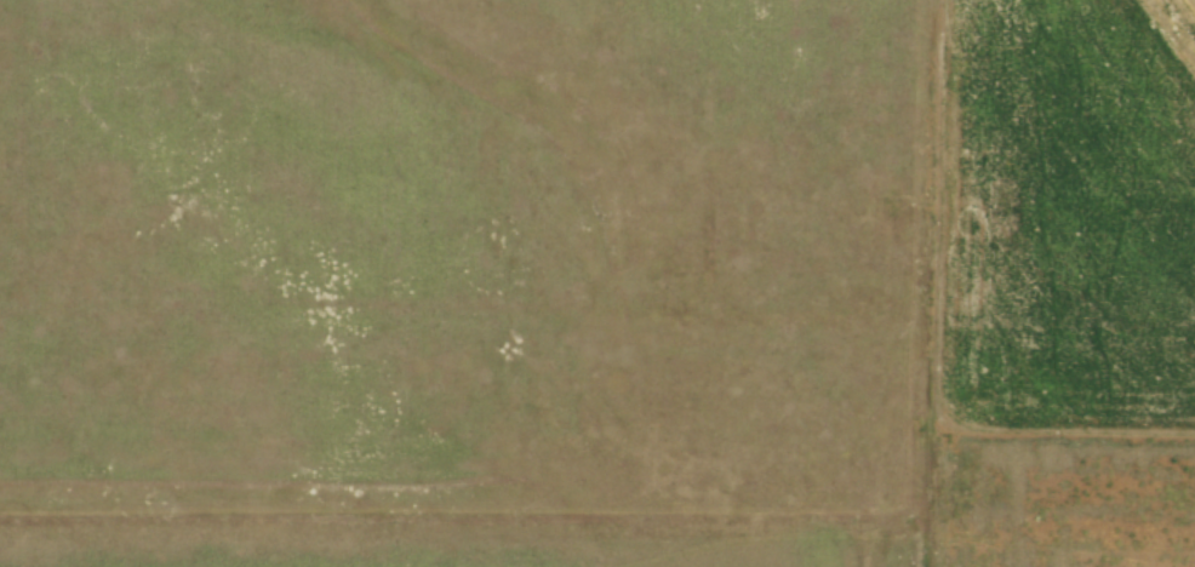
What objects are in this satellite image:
crop: (1071, 218)

